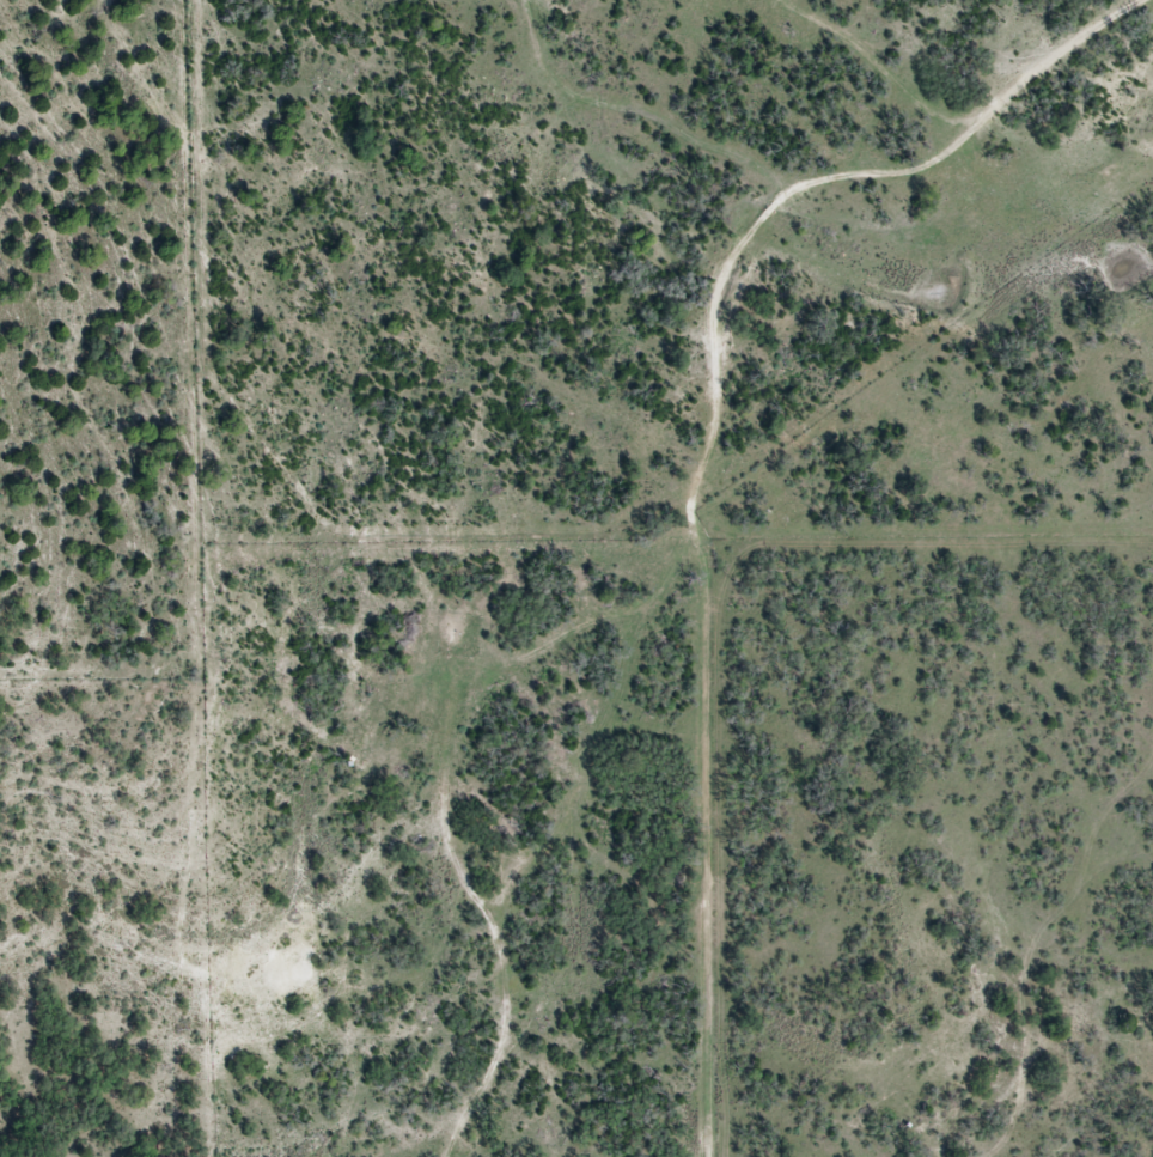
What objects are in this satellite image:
road: (866, 205)

